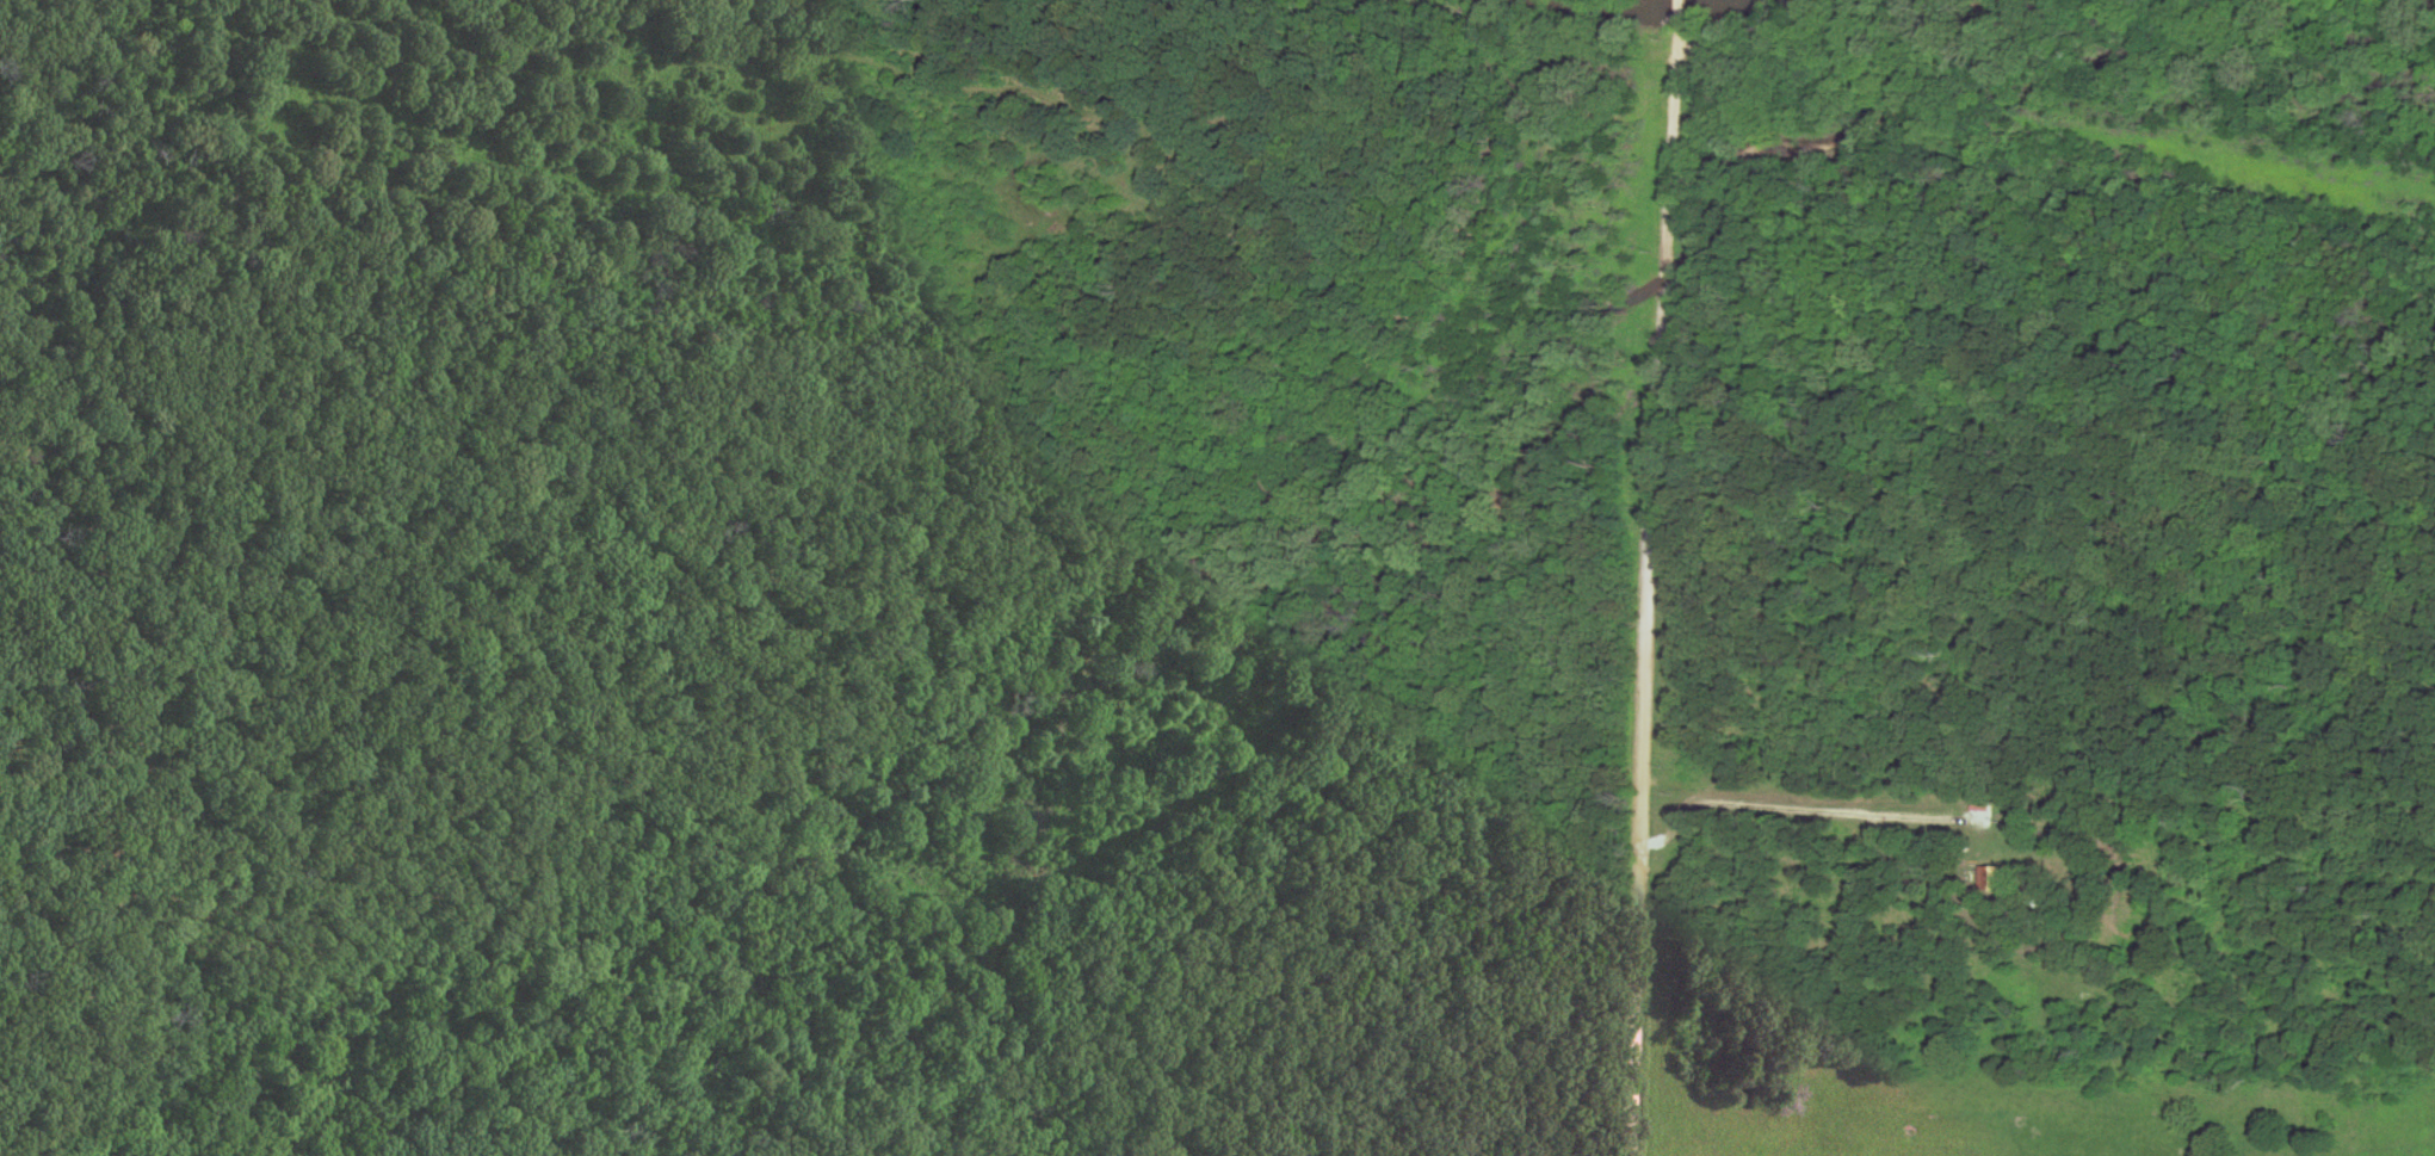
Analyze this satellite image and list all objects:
road: (1683, 14)
road: (1646, 592)
road: (1834, 805)

